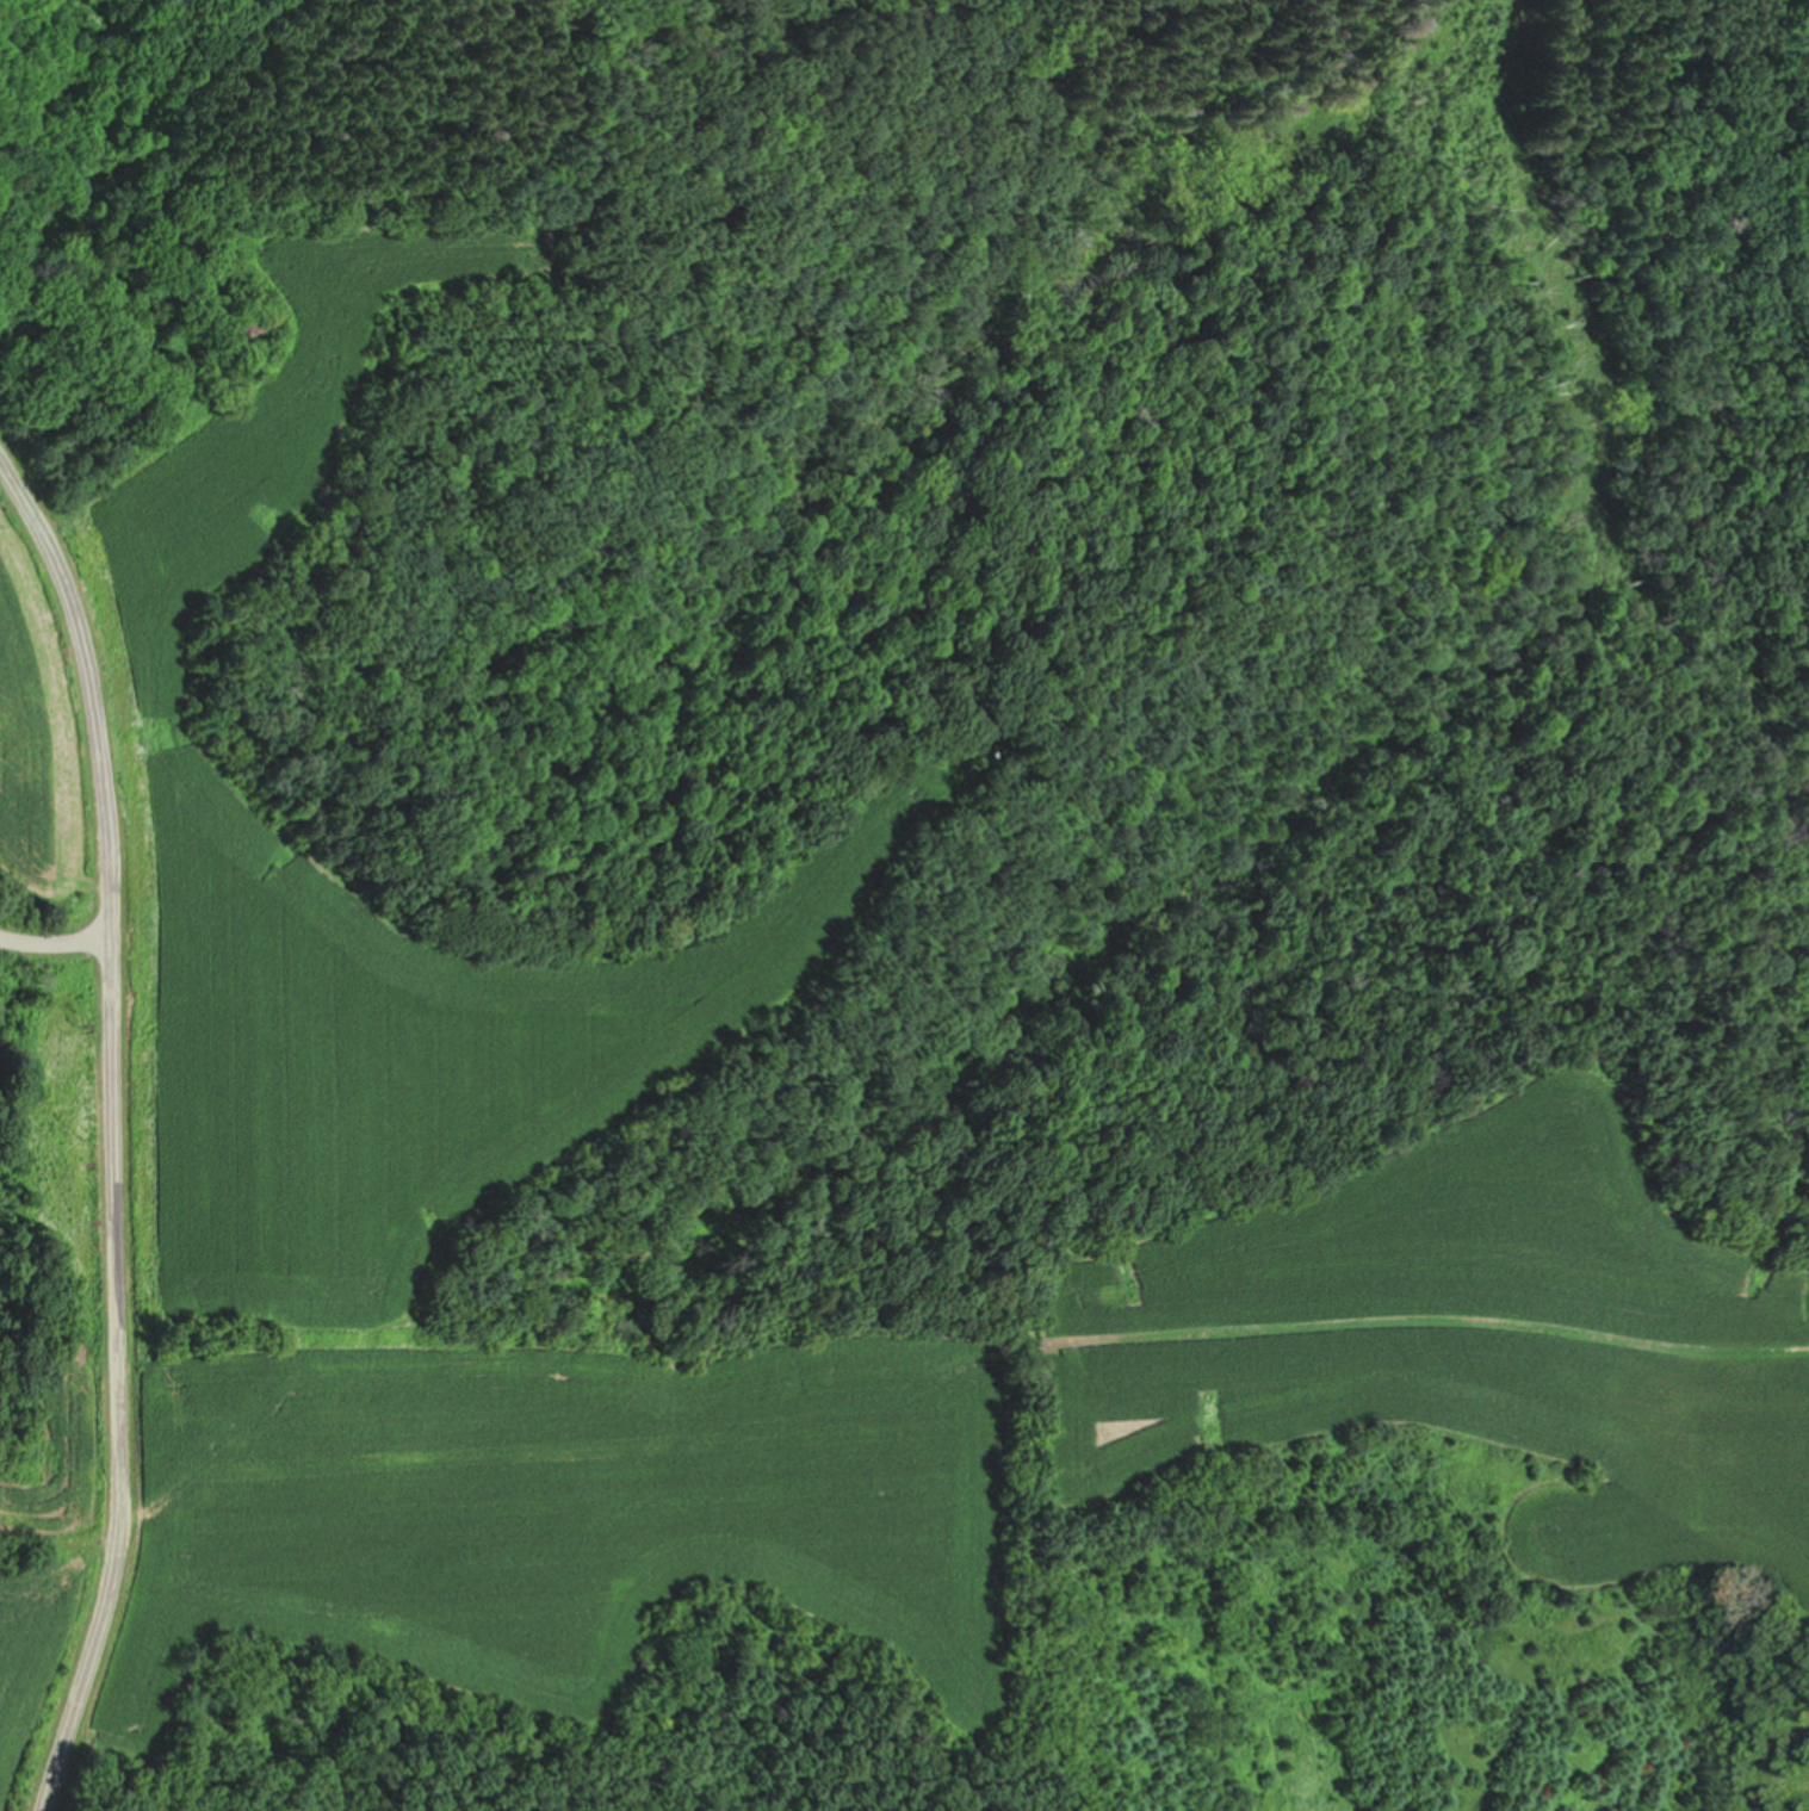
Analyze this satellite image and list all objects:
building: (247, 339)
road: (160, 470)
road: (55, 942)
road: (113, 1124)

